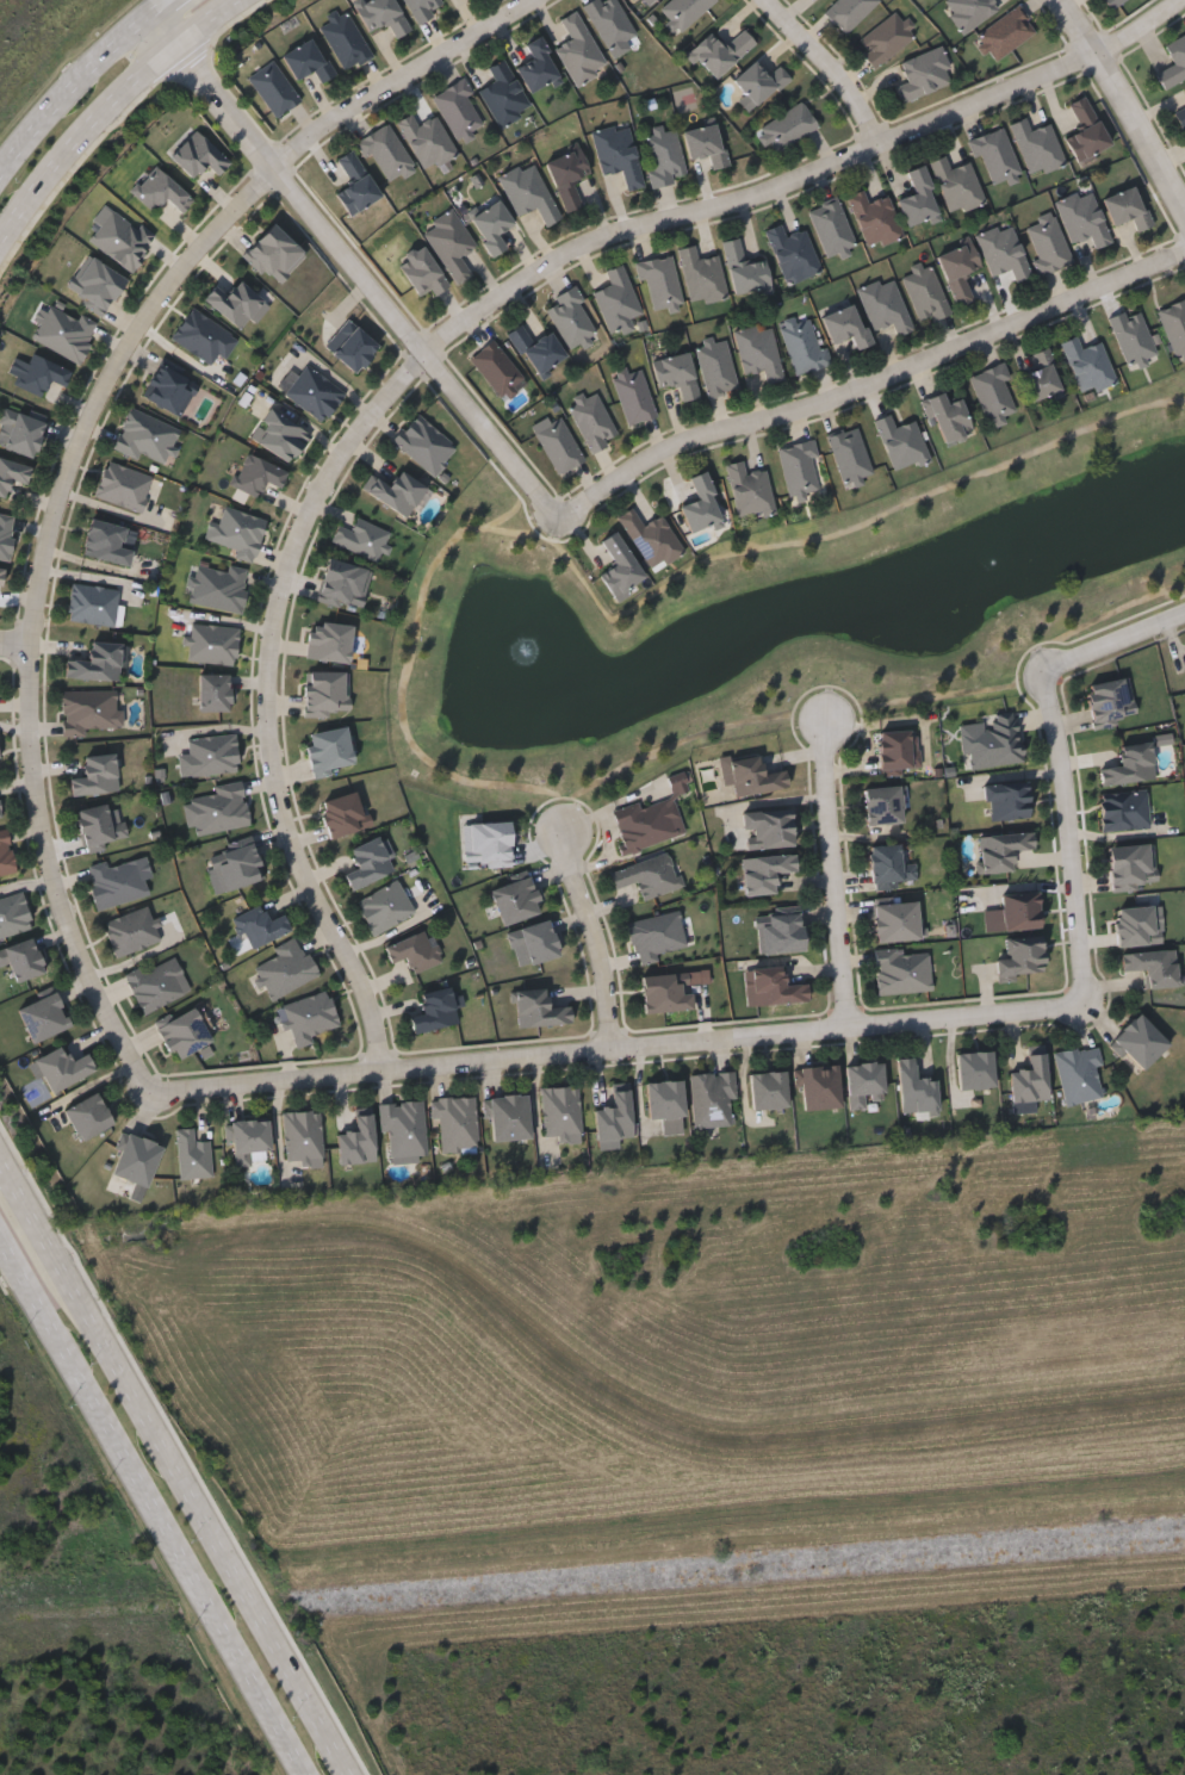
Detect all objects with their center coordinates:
building: (652, 0)
building: (1112, 2)
building: (421, 8)
building: (968, 11)
building: (682, 12)
building: (846, 12)
road: (176, 13)
building: (381, 15)
building: (609, 21)
road: (1142, 29)
building: (1005, 32)
road: (169, 38)
building: (885, 38)
building: (345, 39)
building: (578, 50)
building: (720, 52)
building: (308, 60)
building: (1173, 62)
building: (538, 67)
road: (830, 68)
building: (923, 74)
road: (402, 80)
building: (757, 83)
building: (1184, 87)
building: (272, 88)
building: (504, 94)
road: (1125, 103)
road: (72, 104)
road: (113, 108)
building: (458, 108)
building: (1180, 116)
building: (786, 128)
building: (1085, 130)
building: (426, 139)
building: (705, 143)
building: (1037, 147)
building: (618, 153)
building: (197, 154)
building: (387, 155)
building: (663, 156)
building: (994, 156)
building: (566, 173)
building: (355, 184)
building: (956, 185)
building: (159, 190)
building: (528, 192)
road: (756, 196)
building: (918, 198)
building: (1125, 207)
building: (874, 218)
building: (1082, 218)
building: (491, 225)
building: (831, 229)
building: (119, 237)
building: (449, 243)
building: (1046, 243)
building: (1001, 252)
building: (792, 253)
building: (273, 255)
building: (744, 269)
building: (958, 269)
building: (421, 272)
building: (701, 275)
building: (658, 283)
road: (370, 285)
building: (95, 286)
building: (924, 292)
building: (616, 298)
building: (235, 304)
building: (885, 305)
building: (571, 318)
building: (845, 323)
building: (1174, 325)
building: (64, 331)
building: (200, 335)
building: (1133, 339)
building: (804, 345)
building: (350, 346)
building: (536, 349)
building: (758, 352)
building: (1087, 365)
building: (715, 366)
building: (496, 368)
building: (37, 373)
building: (676, 374)
building: (1042, 377)
road: (108, 384)
building: (169, 385)
road: (869, 385)
building: (312, 392)
building: (992, 392)
building: (632, 395)
building: (949, 417)
building: (591, 421)
building: (21, 434)
building: (280, 435)
building: (145, 436)
building: (900, 441)
building: (423, 443)
building: (558, 445)
building: (849, 455)
building: (798, 466)
building: (12, 473)
building: (258, 474)
building: (123, 485)
building: (397, 490)
building: (749, 490)
building: (700, 504)
building: (235, 532)
building: (6, 534)
building: (360, 538)
building: (650, 538)
building: (105, 541)
building: (619, 567)
building: (1, 575)
building: (342, 583)
building: (219, 587)
building: (92, 604)
road: (1160, 623)
building: (328, 641)
building: (212, 644)
road: (15, 645)
building: (97, 663)
building: (213, 691)
building: (325, 693)
building: (1109, 701)
road: (267, 703)
building: (88, 710)
building: (991, 741)
building: (328, 750)
building: (898, 750)
building: (212, 753)
building: (0, 758)
building: (1129, 765)
building: (751, 772)
building: (94, 774)
road: (1067, 789)
building: (1006, 800)
building: (882, 805)
building: (216, 809)
building: (1123, 809)
building: (0, 813)
building: (342, 814)
building: (647, 821)
building: (99, 824)
building: (768, 826)
building: (486, 844)
building: (1001, 849)
building: (5, 855)
building: (368, 862)
building: (886, 863)
building: (1131, 865)
building: (234, 867)
building: (764, 871)
road: (833, 873)
building: (649, 875)
road: (56, 880)
building: (117, 881)
building: (515, 898)
building: (384, 907)
building: (13, 913)
building: (1013, 913)
building: (895, 920)
building: (259, 925)
building: (1135, 925)
building: (130, 930)
building: (778, 930)
building: (656, 936)
road: (596, 939)
building: (533, 943)
building: (414, 951)
building: (1022, 956)
building: (23, 960)
building: (1153, 967)
building: (285, 968)
building: (901, 970)
building: (157, 983)
building: (776, 988)
building: (665, 993)
building: (539, 1008)
building: (435, 1010)
building: (43, 1017)
building: (309, 1017)
building: (182, 1032)
building: (1137, 1043)
road: (621, 1051)
building: (62, 1067)
building: (975, 1068)
building: (1078, 1073)
building: (1029, 1079)
building: (862, 1081)
building: (819, 1086)
building: (768, 1088)
building: (916, 1088)
building: (664, 1098)
building: (712, 1099)
building: (560, 1110)
building: (87, 1116)
building: (509, 1116)
building: (614, 1117)
building: (455, 1123)
building: (403, 1129)
building: (302, 1134)
building: (247, 1137)
building: (356, 1140)
building: (193, 1155)
building: (135, 1158)
road: (5, 1175)
road: (179, 1479)
road: (156, 1503)
park: (610, 1698)

